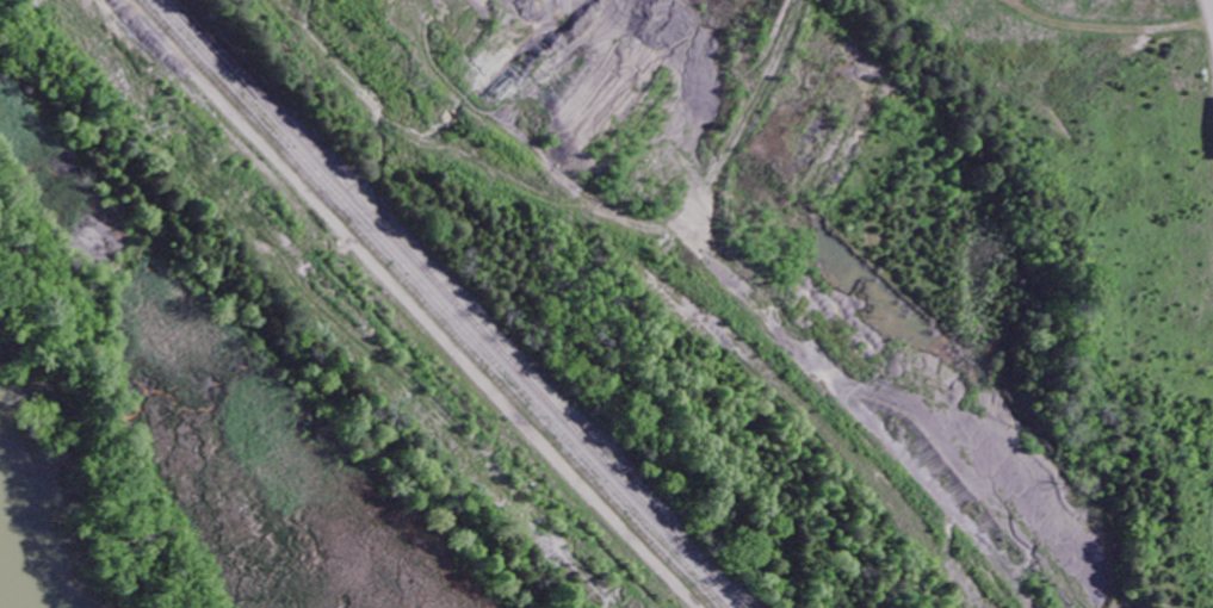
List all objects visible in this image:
road: (1203, 41)
railway: (448, 304)
river: (23, 559)

